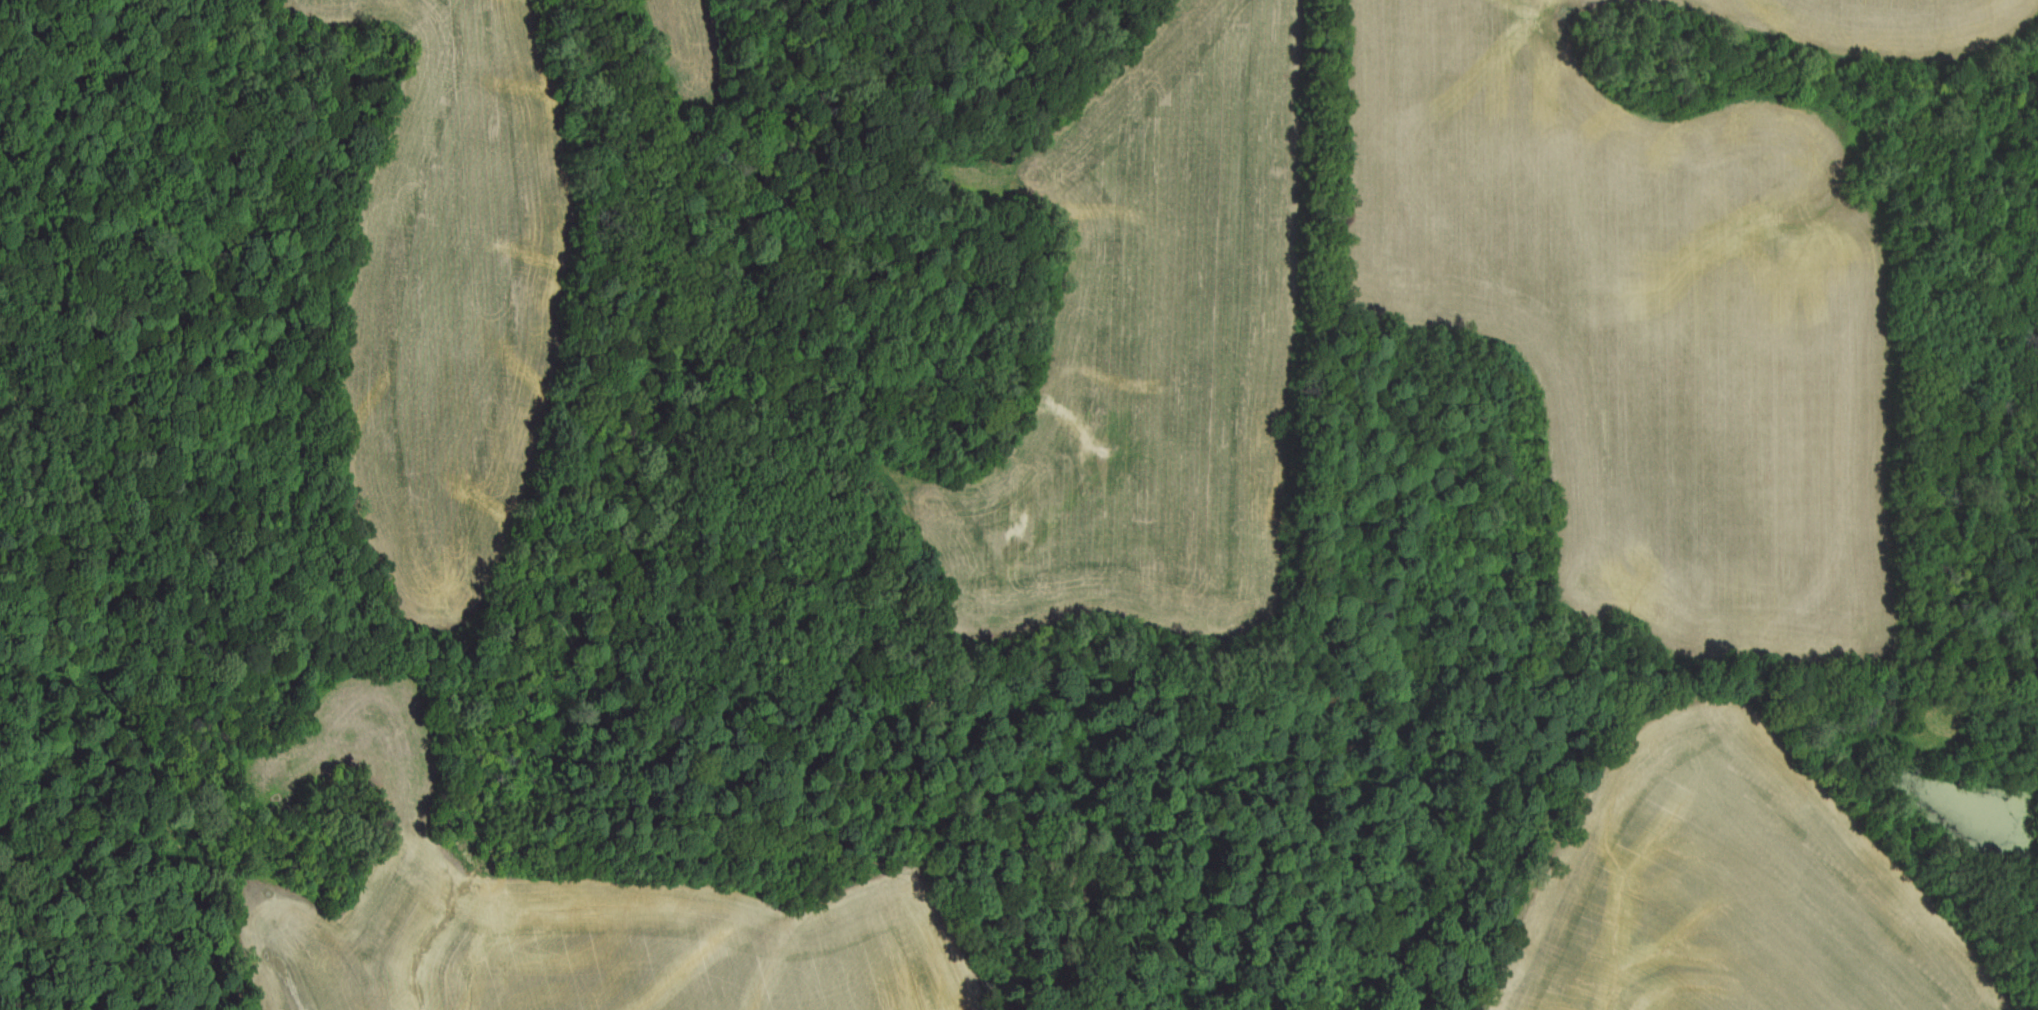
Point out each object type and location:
road: (1745, 363)
road: (656, 867)
road: (679, 936)

